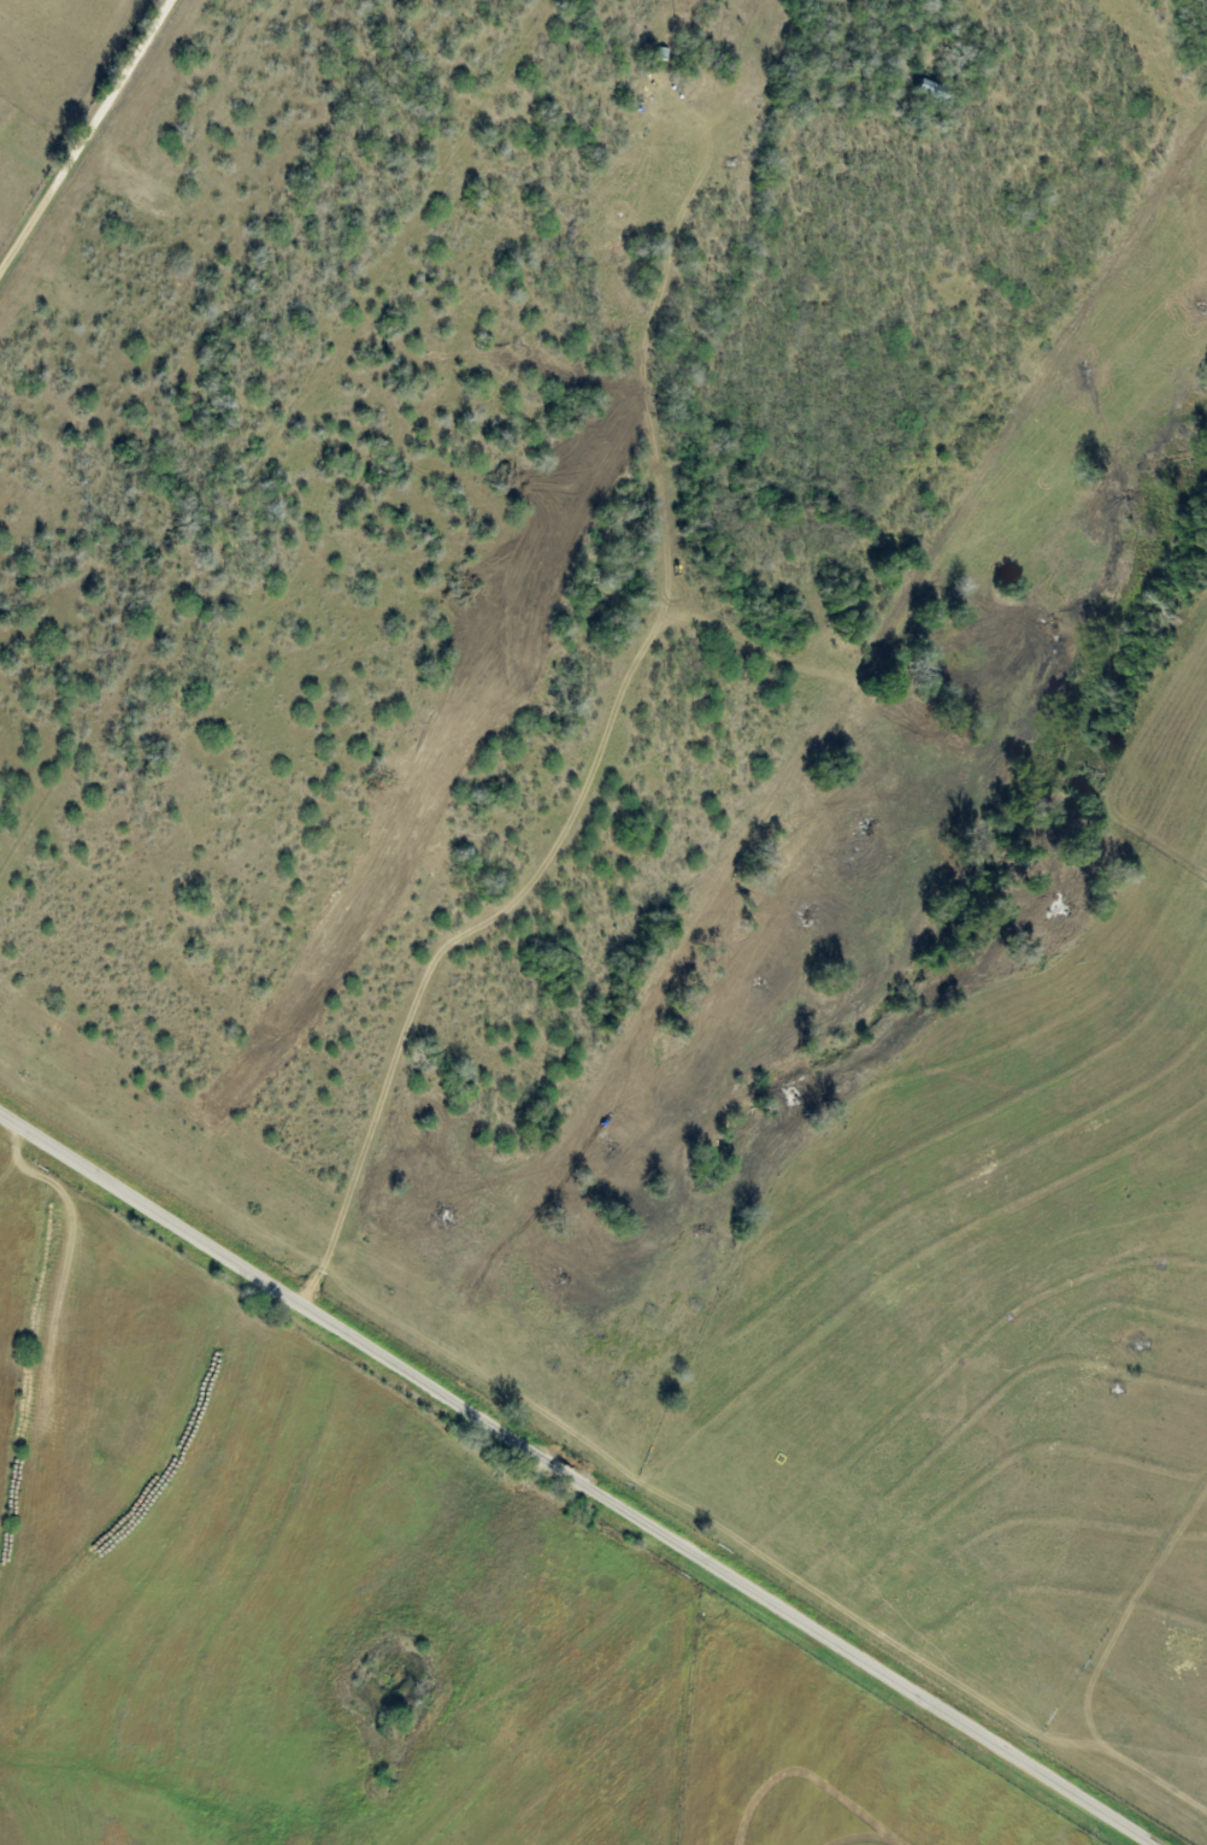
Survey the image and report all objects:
road: (84, 137)
road: (581, 1477)

